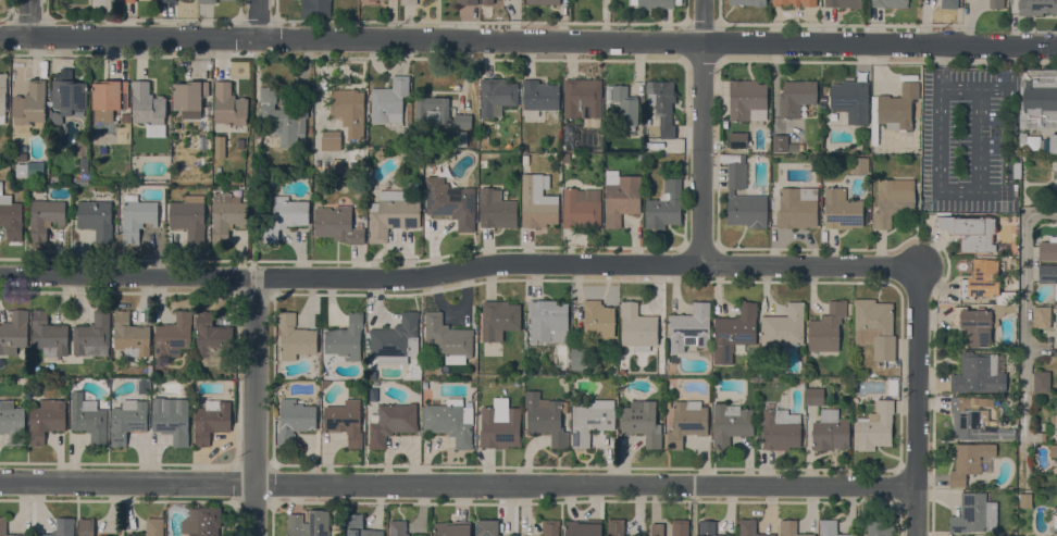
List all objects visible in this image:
building: (166, 0)
building: (229, 0)
building: (127, 1)
building: (207, 1)
building: (369, 2)
building: (408, 2)
building: (467, 2)
building: (486, 2)
building: (543, 2)
building: (747, 2)
building: (794, 2)
building: (654, 3)
building: (843, 3)
building: (888, 3)
building: (995, 3)
building: (949, 4)
building: (1036, 7)
building: (315, 9)
road: (10, 12)
road: (29, 17)
road: (261, 21)
road: (527, 42)
road: (1011, 66)
road: (975, 88)
building: (496, 96)
building: (2, 97)
building: (69, 97)
building: (189, 97)
building: (539, 97)
building: (582, 98)
building: (796, 98)
building: (109, 99)
building: (1037, 99)
building: (747, 100)
building: (850, 100)
building: (389, 101)
building: (29, 105)
building: (228, 105)
building: (624, 105)
building: (663, 105)
building: (148, 109)
building: (348, 110)
building: (432, 110)
building: (893, 110)
building: (126, 117)
building: (282, 119)
building: (462, 121)
road: (706, 133)
building: (461, 138)
road: (979, 139)
building: (331, 140)
building: (737, 140)
building: (1029, 141)
building: (780, 144)
building: (1050, 144)
building: (82, 146)
building: (220, 147)
building: (795, 147)
building: (523, 149)
building: (380, 154)
building: (23, 157)
building: (564, 159)
building: (525, 160)
building: (482, 163)
building: (859, 164)
building: (34, 166)
building: (84, 166)
building: (1056, 167)
building: (64, 179)
building: (413, 188)
road: (952, 191)
building: (620, 197)
building: (743, 197)
building: (893, 200)
building: (450, 202)
building: (537, 202)
building: (664, 205)
building: (581, 208)
building: (797, 208)
building: (496, 210)
building: (841, 210)
building: (393, 214)
building: (226, 216)
building: (285, 216)
building: (11, 217)
building: (45, 217)
building: (136, 217)
building: (188, 217)
building: (96, 219)
building: (337, 224)
building: (970, 232)
building: (1048, 249)
road: (457, 271)
building: (1048, 275)
building: (981, 279)
building: (1042, 317)
building: (499, 319)
building: (598, 320)
building: (548, 321)
building: (980, 322)
building: (784, 326)
building: (637, 327)
building: (874, 327)
building: (691, 328)
building: (826, 328)
building: (13, 333)
building: (734, 333)
road: (1023, 333)
building: (49, 335)
building: (174, 335)
building: (92, 336)
building: (129, 336)
building: (295, 337)
building: (345, 338)
building: (448, 339)
building: (395, 340)
building: (211, 341)
building: (579, 358)
building: (114, 365)
building: (979, 373)
building: (1041, 382)
building: (324, 384)
building: (893, 386)
building: (813, 397)
road: (917, 402)
road: (253, 407)
building: (546, 417)
building: (88, 419)
building: (171, 419)
building: (46, 420)
building: (127, 420)
building: (211, 421)
building: (294, 421)
building: (345, 421)
building: (592, 421)
building: (12, 422)
building: (449, 422)
building: (642, 422)
building: (686, 422)
building: (974, 422)
building: (391, 423)
building: (731, 424)
building: (500, 425)
building: (1056, 425)
building: (874, 427)
building: (780, 429)
building: (830, 431)
building: (1036, 437)
building: (1053, 450)
building: (968, 461)
road: (459, 486)
building: (1025, 500)
building: (973, 514)
building: (201, 522)
building: (309, 524)
building: (1055, 524)
building: (3, 525)
building: (86, 526)
building: (359, 526)
building: (62, 527)
building: (154, 527)
building: (397, 527)
building: (486, 527)
building: (549, 527)
building: (583, 527)
building: (615, 527)
building: (680, 527)
building: (829, 527)
building: (879, 527)
building: (452, 528)
building: (707, 528)
building: (749, 528)
building: (789, 528)
building: (655, 529)
building: (114, 535)
building: (1019, 535)

